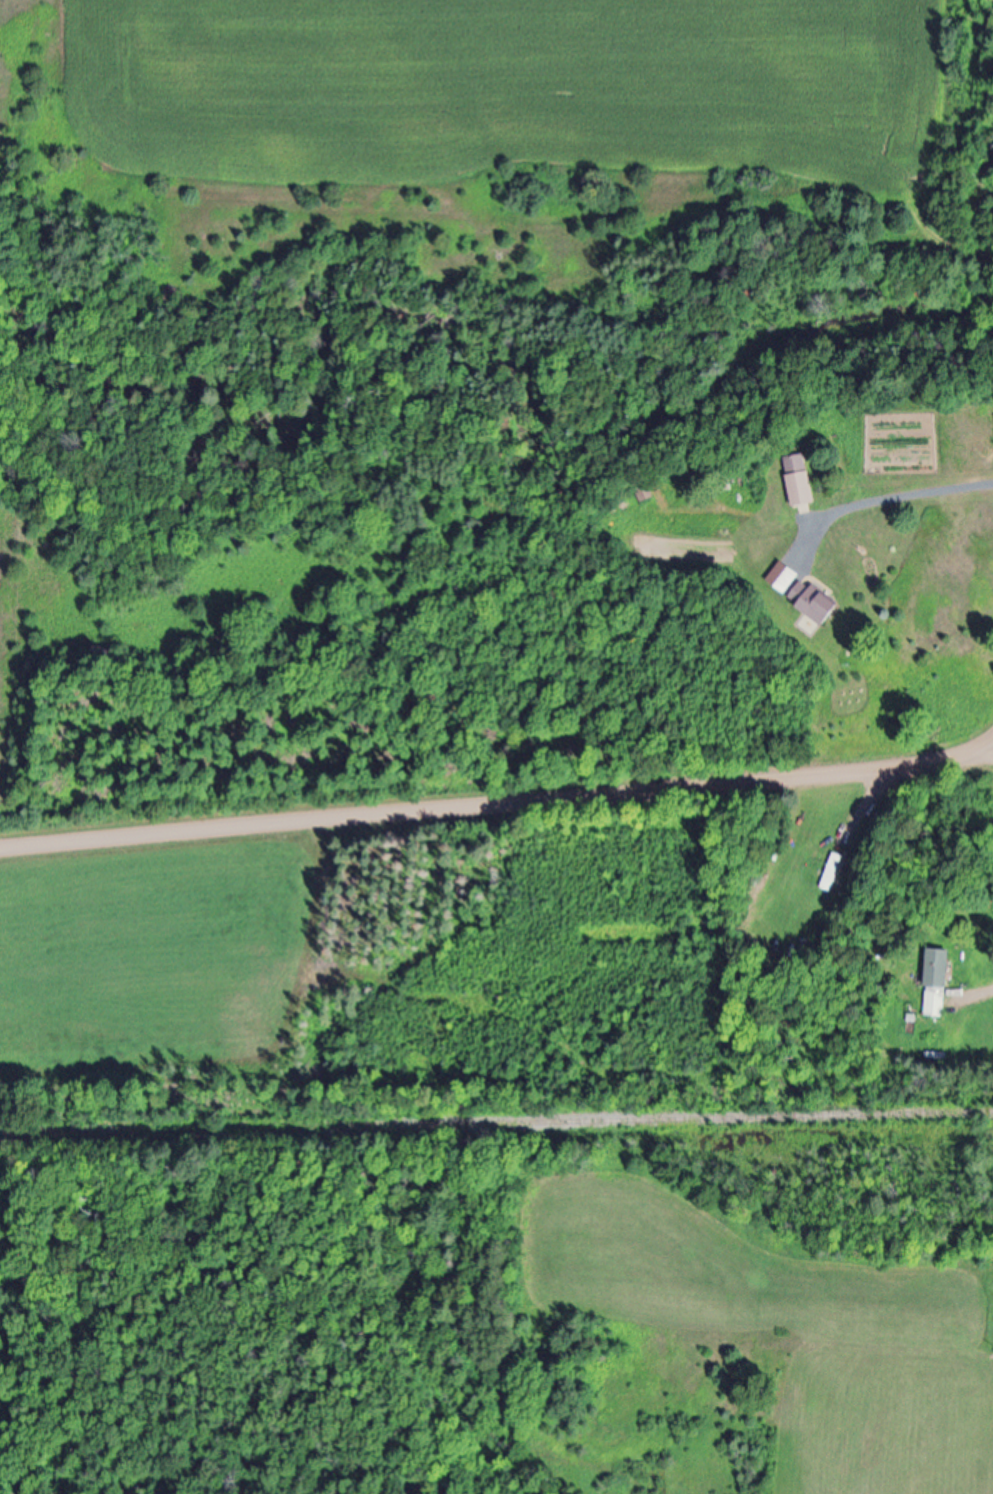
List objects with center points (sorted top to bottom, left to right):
building: (802, 484)
building: (818, 603)
road: (499, 794)
building: (859, 843)
building: (939, 983)
railway: (496, 1125)

